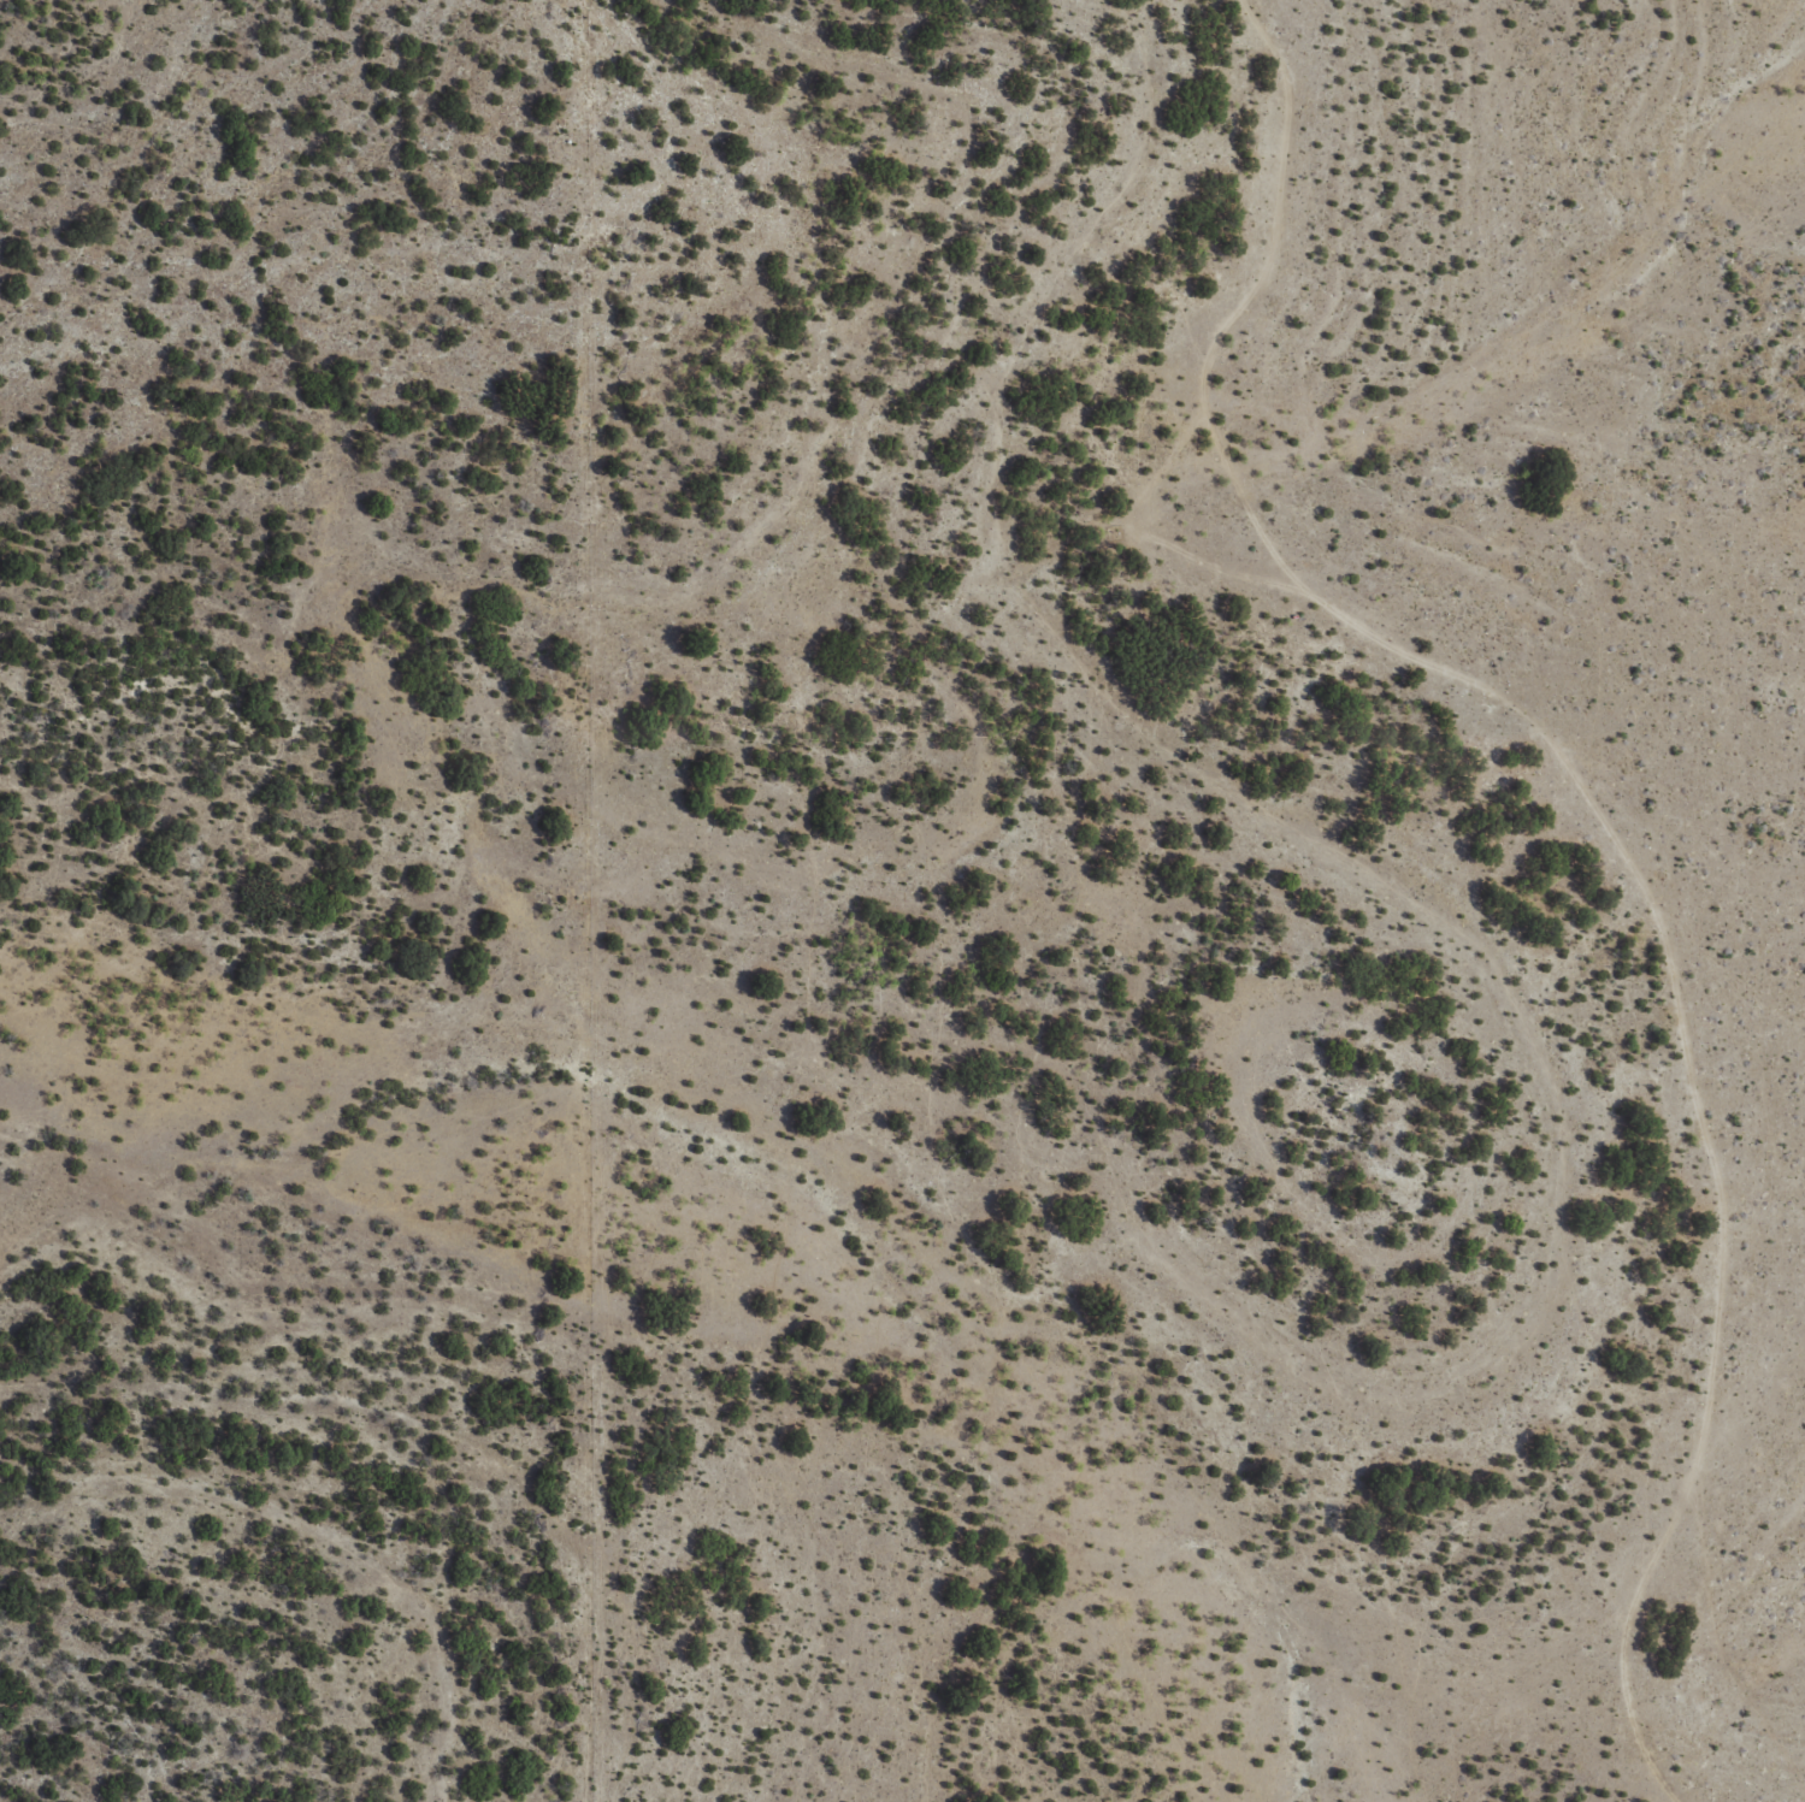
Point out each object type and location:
road: (1592, 814)

